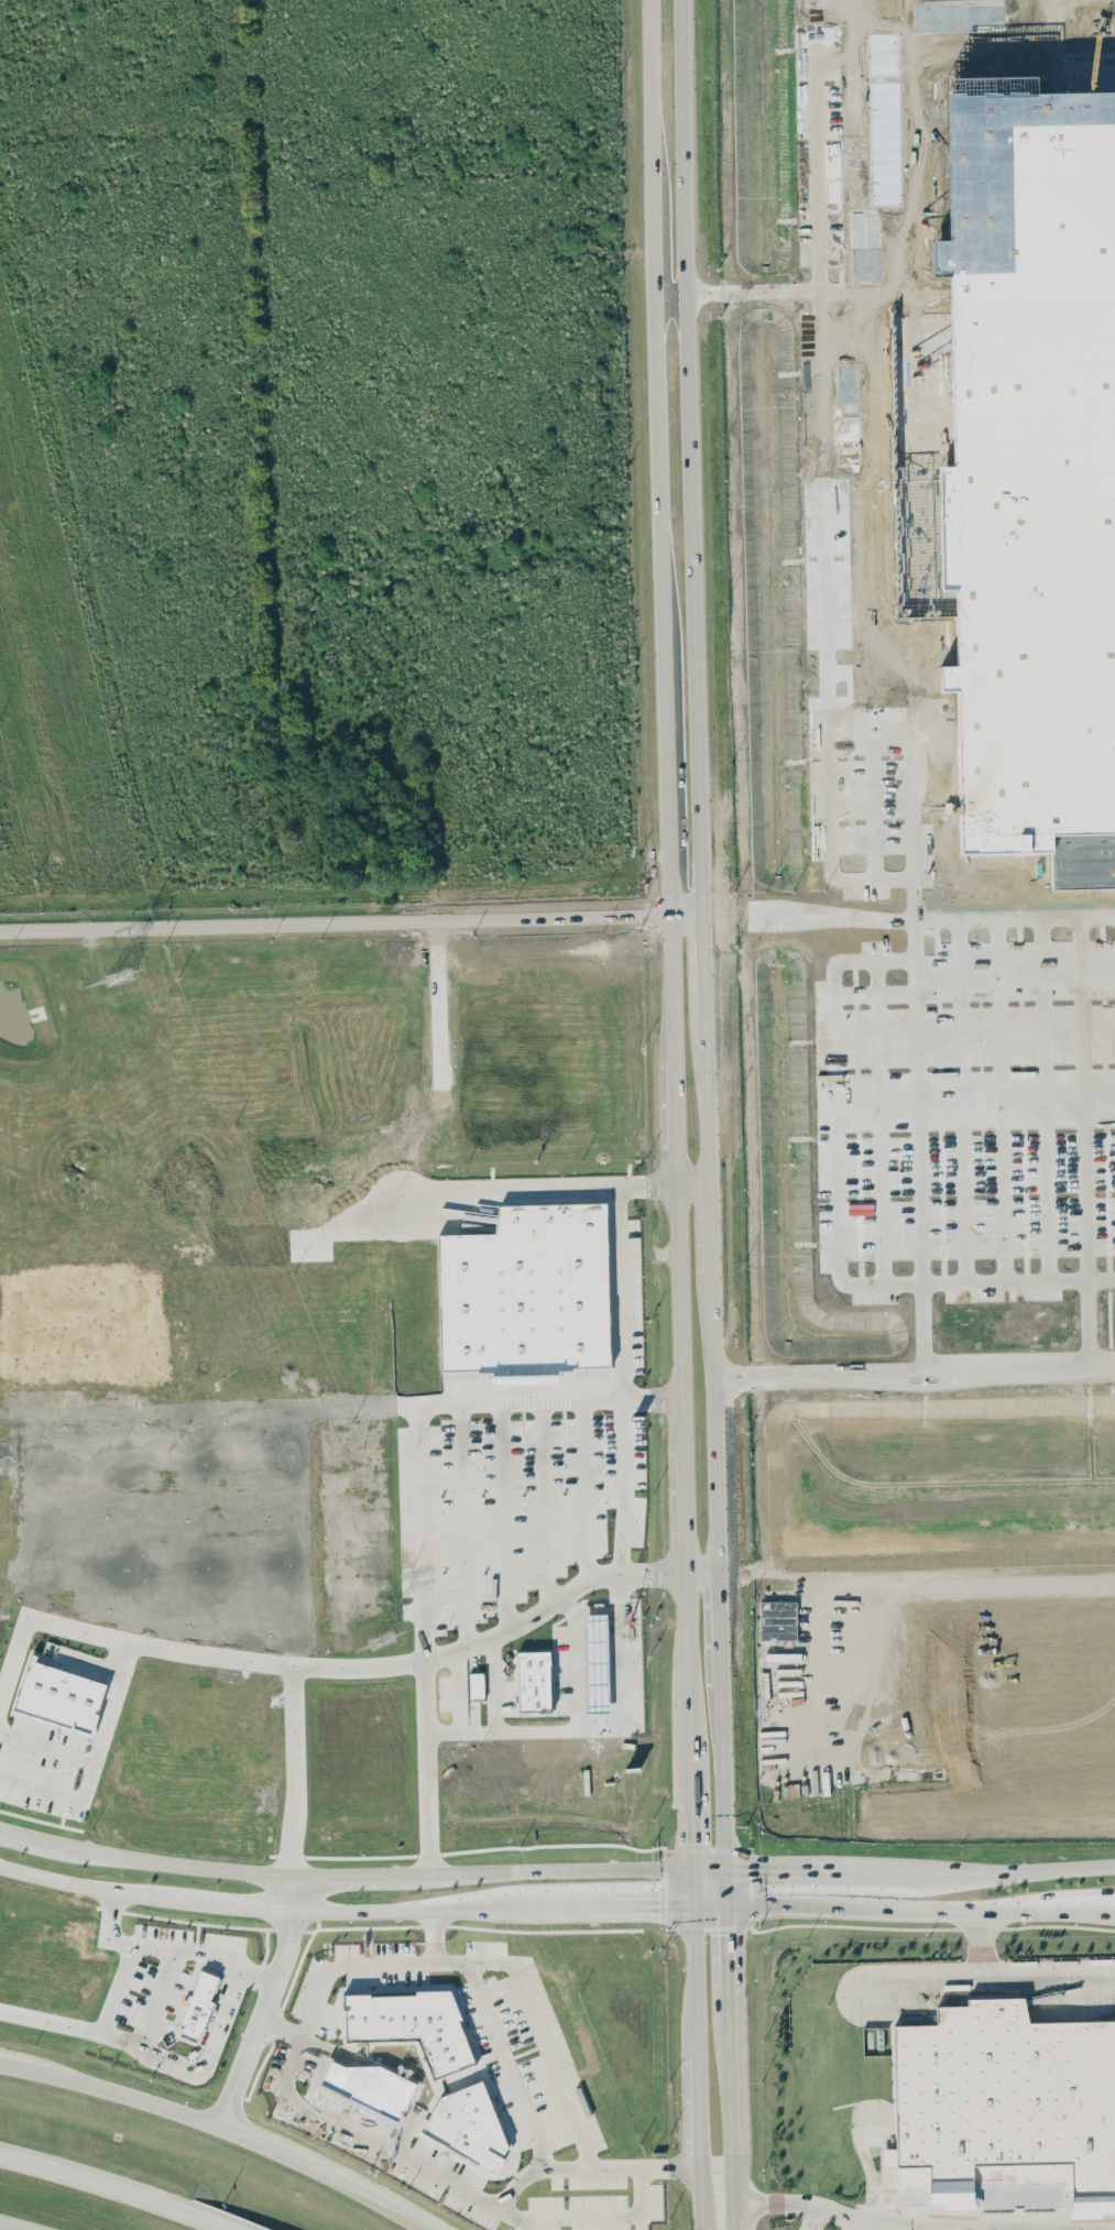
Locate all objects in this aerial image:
road: (860, 145)
road: (819, 212)
road: (864, 440)
building: (1034, 453)
road: (690, 457)
road: (846, 670)
road: (666, 698)
road: (824, 725)
road: (870, 775)
road: (350, 920)
road: (703, 965)
power tower: (117, 977)
road: (916, 1041)
road: (1043, 1096)
road: (1083, 1096)
road: (1001, 1097)
road: (961, 1098)
road: (878, 1121)
road: (693, 1182)
road: (511, 1191)
road: (835, 1216)
road: (622, 1290)
building: (526, 1292)
road: (711, 1293)
road: (1087, 1322)
road: (914, 1374)
road: (416, 1433)
road: (623, 1484)
road: (686, 1484)
road: (583, 1491)
road: (545, 1501)
road: (851, 1506)
road: (503, 1512)
road: (462, 1523)
road: (702, 1571)
road: (655, 1572)
road: (778, 1573)
road: (976, 1576)
road: (597, 1606)
building: (777, 1619)
road: (689, 1621)
road: (64, 1626)
road: (578, 1630)
road: (594, 1630)
road: (614, 1630)
road: (719, 1630)
power tower: (378, 1640)
road: (614, 1651)
road: (578, 1652)
road: (595, 1652)
road: (13, 1660)
road: (572, 1662)
road: (430, 1663)
road: (89, 1664)
road: (594, 1674)
road: (614, 1674)
road: (579, 1675)
road: (496, 1682)
road: (117, 1683)
road: (457, 1693)
road: (579, 1694)
road: (595, 1695)
road: (614, 1695)
building: (61, 1696)
road: (293, 1703)
road: (690, 1703)
road: (602, 1730)
road: (46, 1745)
road: (722, 1778)
road: (692, 1801)
traffic signals: (695, 1843)
road: (709, 1867)
traffic signals: (758, 1868)
road: (834, 1868)
road: (1029, 1869)
road: (345, 1873)
road: (724, 1883)
road: (710, 1901)
road: (651, 1902)
traffic signals: (659, 1902)
road: (300, 1907)
road: (919, 1907)
traffic signals: (725, 1934)
road: (979, 1943)
road: (170, 1948)
road: (696, 1960)
road: (342, 1964)
road: (725, 1974)
road: (988, 1975)
building: (196, 1999)
road: (266, 2002)
building: (411, 2025)
road: (96, 2032)
road: (199, 2062)
road: (507, 2065)
road: (550, 2077)
road: (872, 2103)
building: (1005, 2109)
road: (699, 2110)
road: (729, 2122)
building: (468, 2124)
road: (221, 2127)
road: (402, 2163)
road: (118, 2188)
road: (701, 2196)
road: (729, 2215)
road: (586, 2216)
road: (811, 2218)
parking lot: (821, 2222)
road: (852, 2223)
road: (920, 2224)
road: (8, 2227)
road: (703, 2227)
road: (888, 2227)
road: (931, 2228)
road: (969, 2229)
road: (1004, 2229)
road: (1043, 2229)
road: (1092, 2229)

